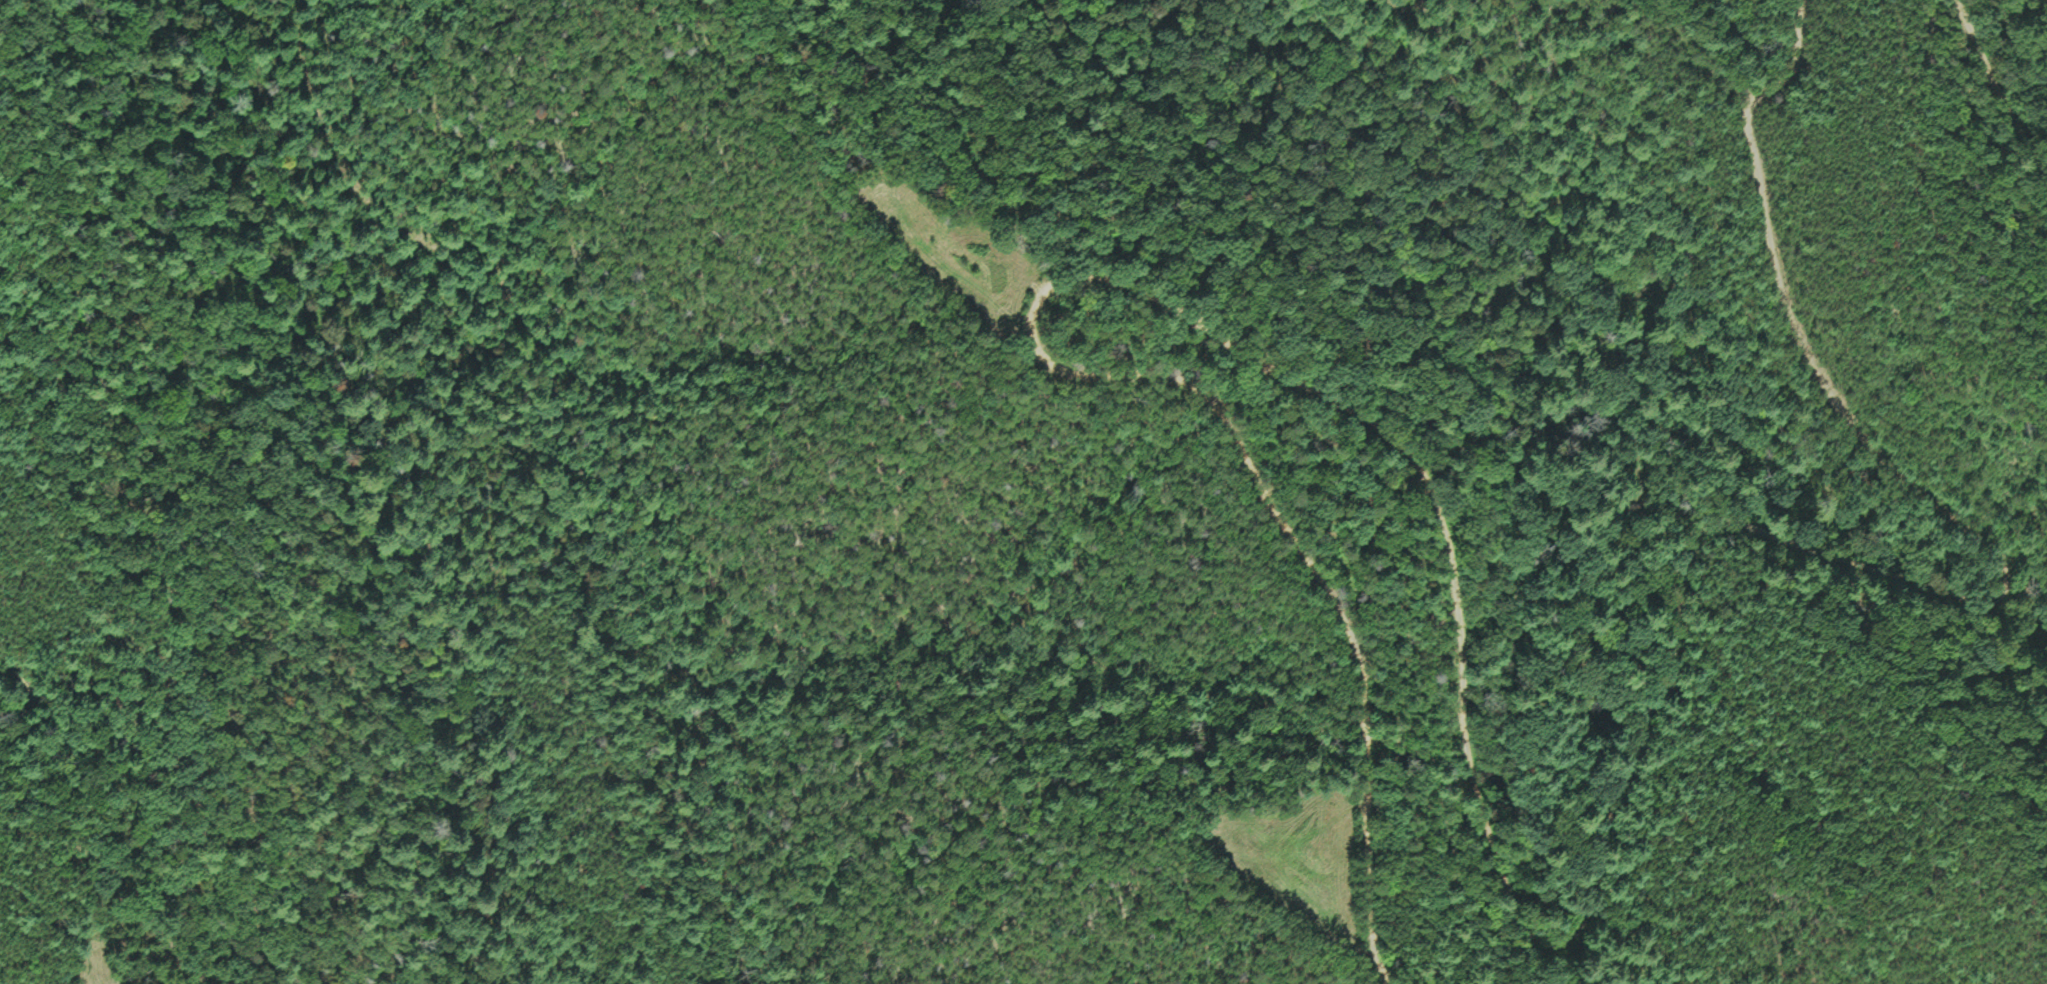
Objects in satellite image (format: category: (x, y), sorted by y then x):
road: (2004, 106)
road: (1487, 751)

